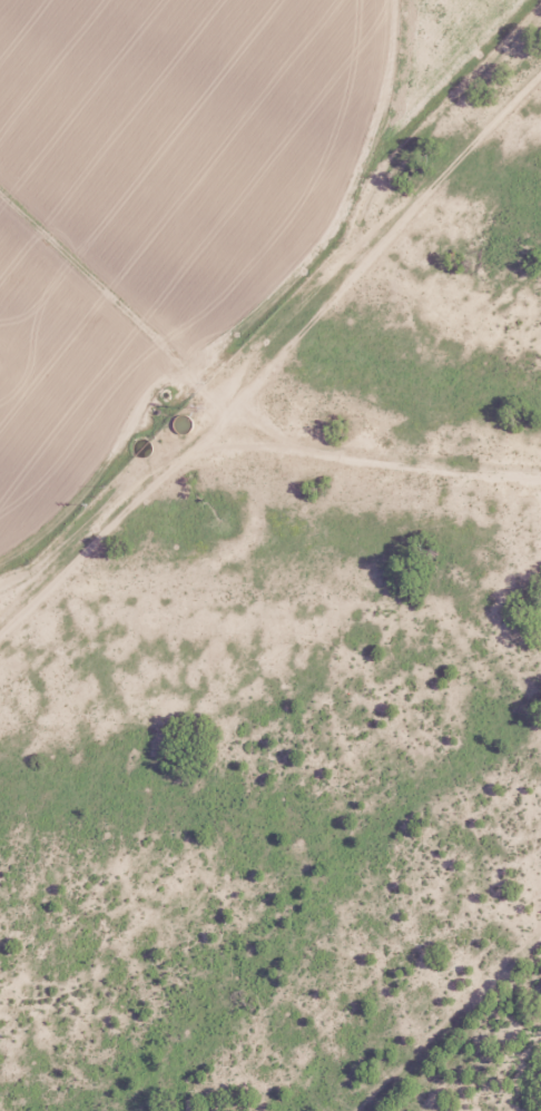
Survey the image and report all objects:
road: (69, 547)

